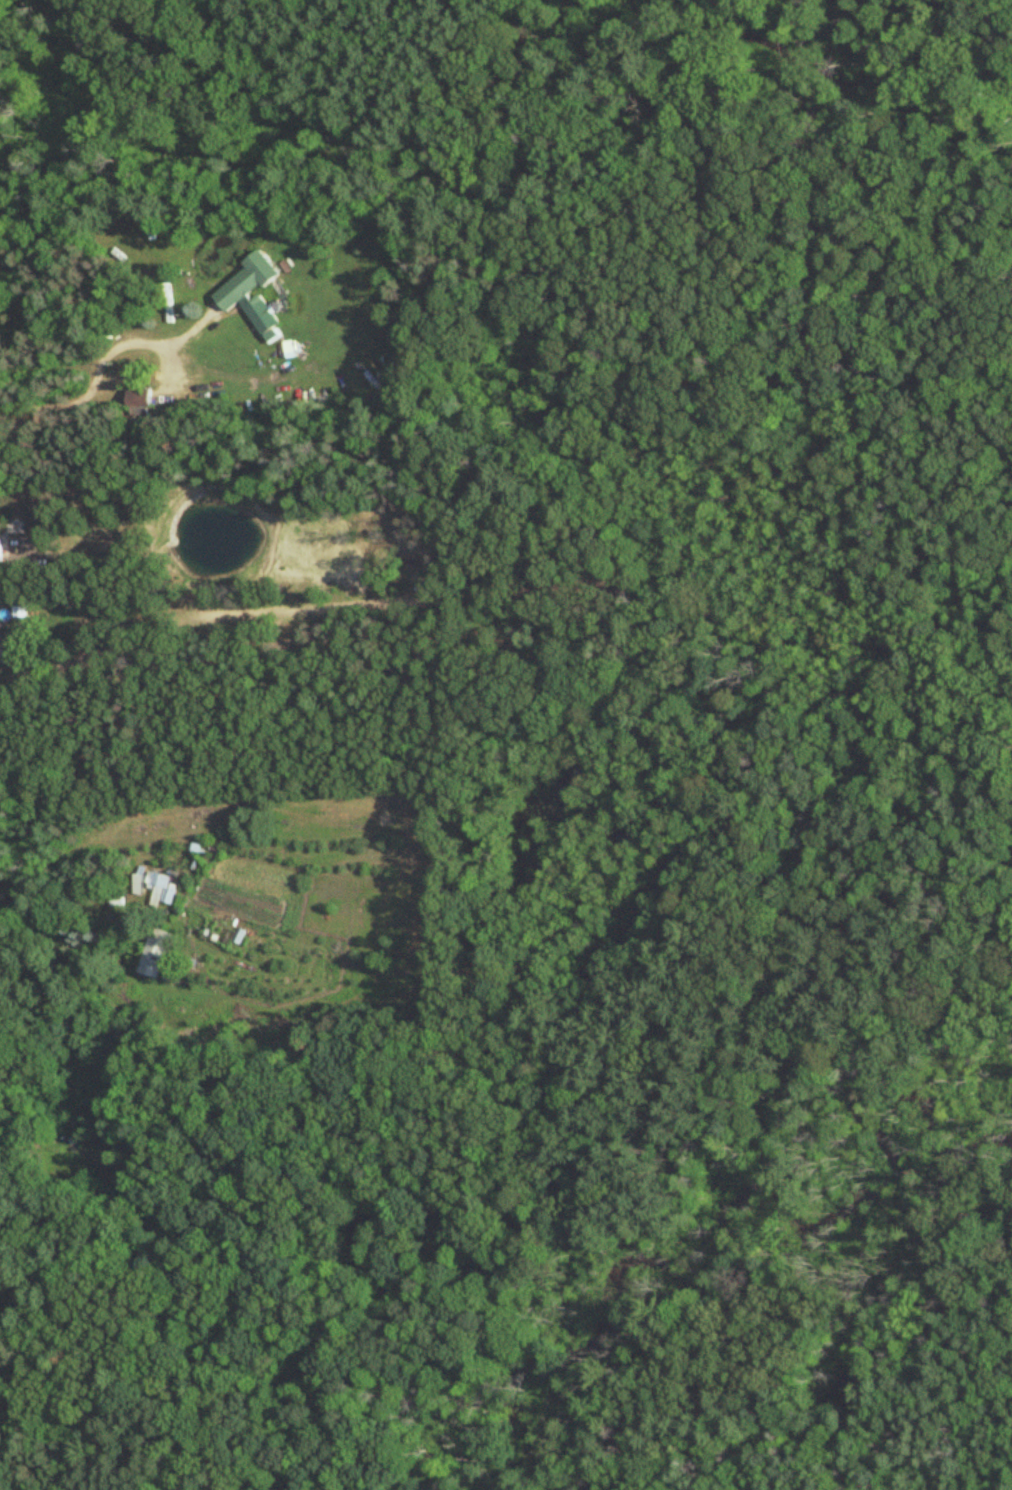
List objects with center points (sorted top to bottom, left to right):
building: (250, 293)
road: (101, 365)
building: (136, 399)
building: (160, 890)
building: (115, 900)
building: (152, 959)

